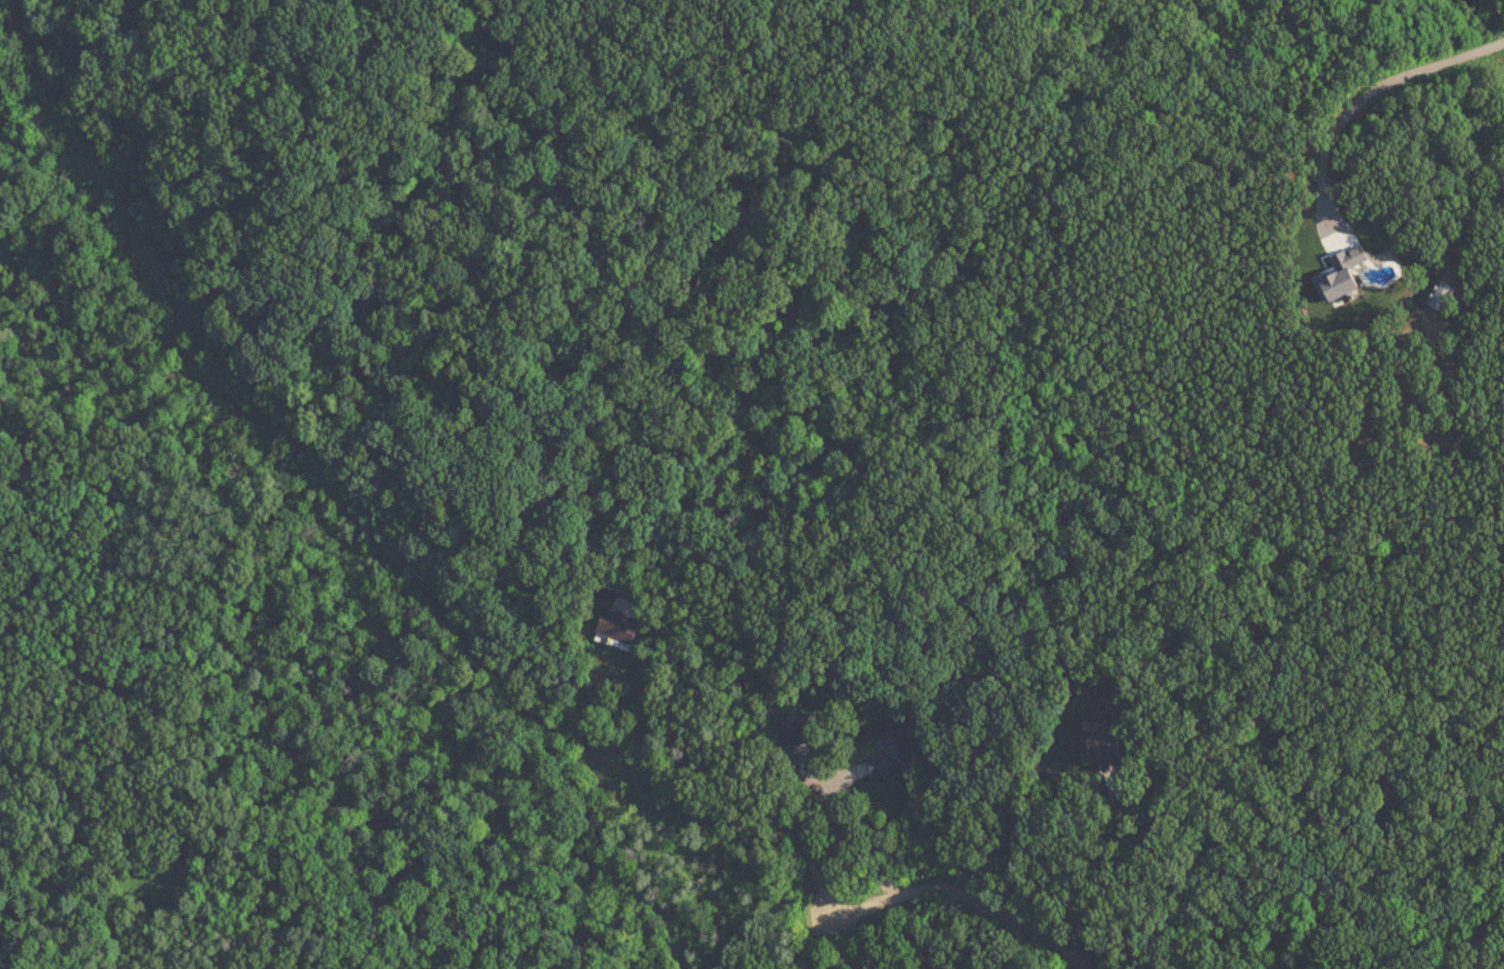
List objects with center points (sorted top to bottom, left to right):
road: (1378, 104)
building: (612, 620)
building: (795, 729)
building: (1098, 747)
building: (887, 752)
road: (1016, 814)
road: (850, 827)
road: (820, 880)

